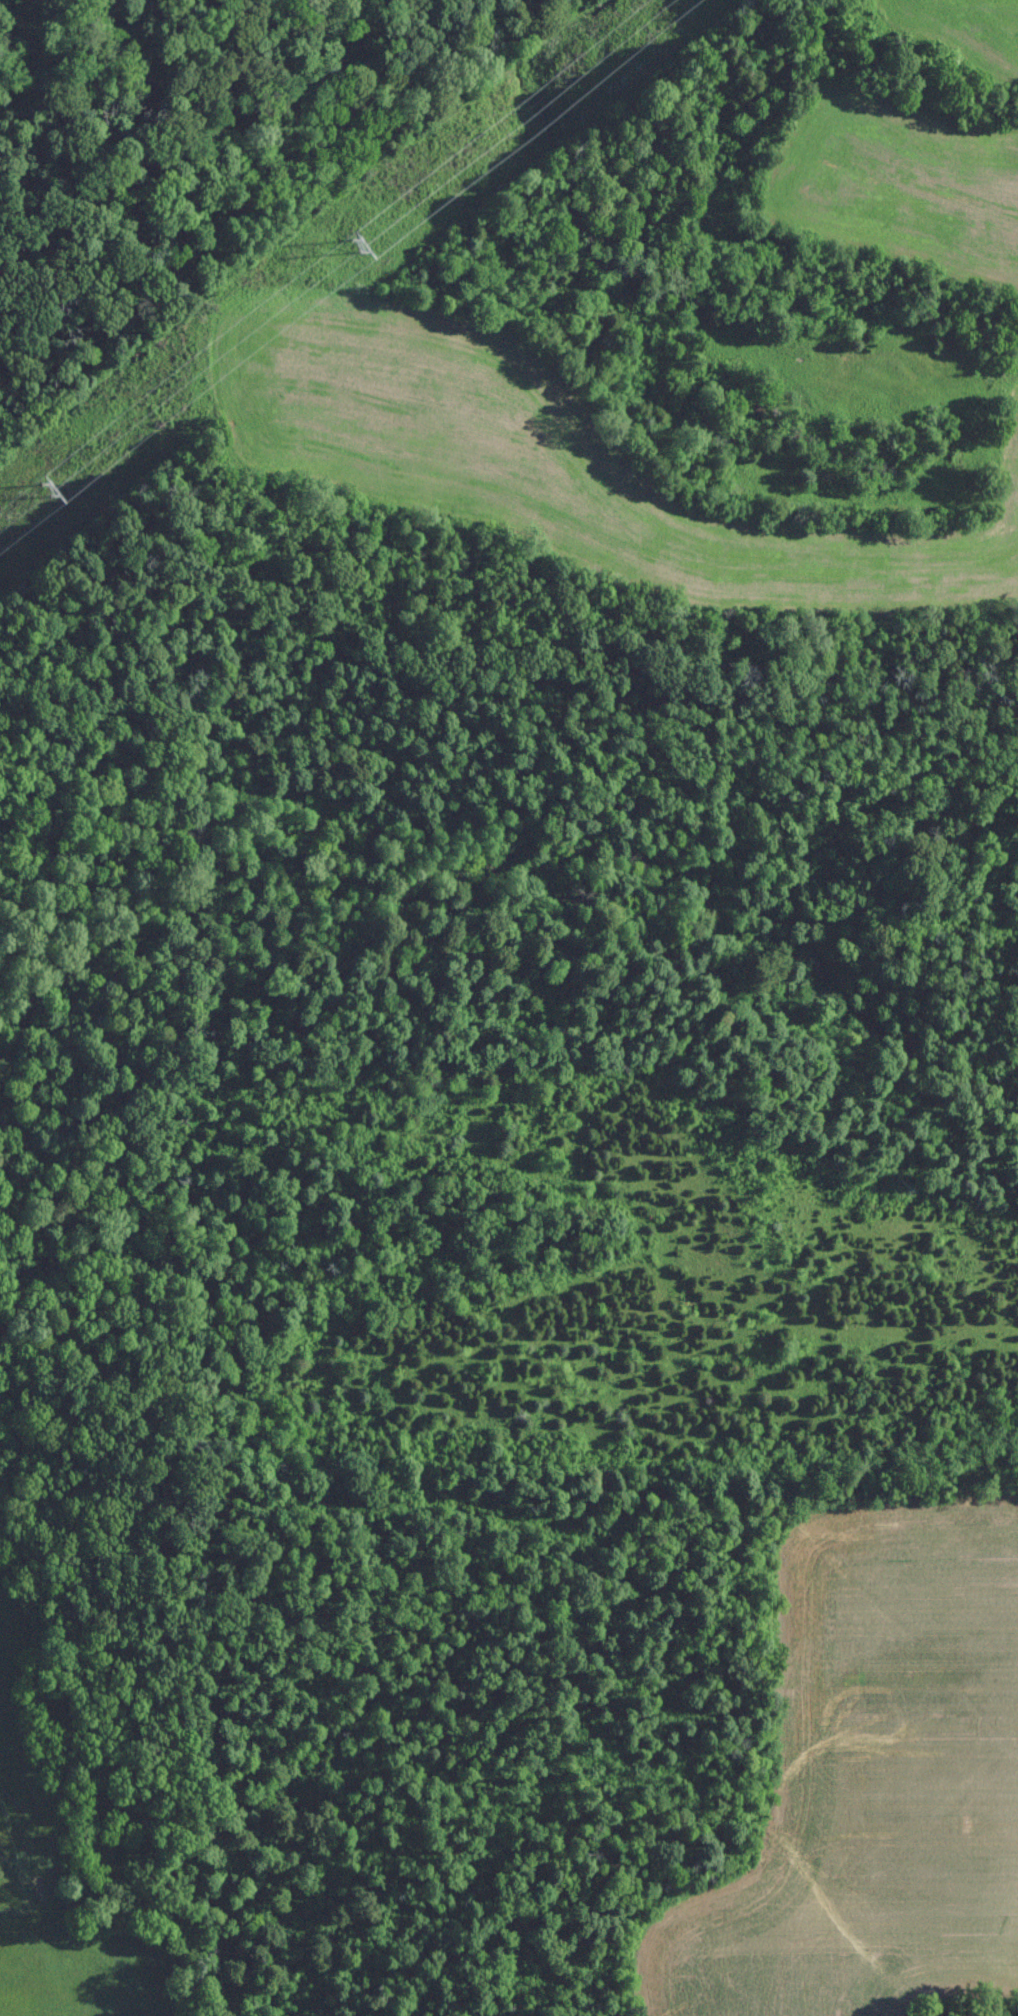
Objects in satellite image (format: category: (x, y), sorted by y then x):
power tower: (352, 245)
power tower: (44, 489)

